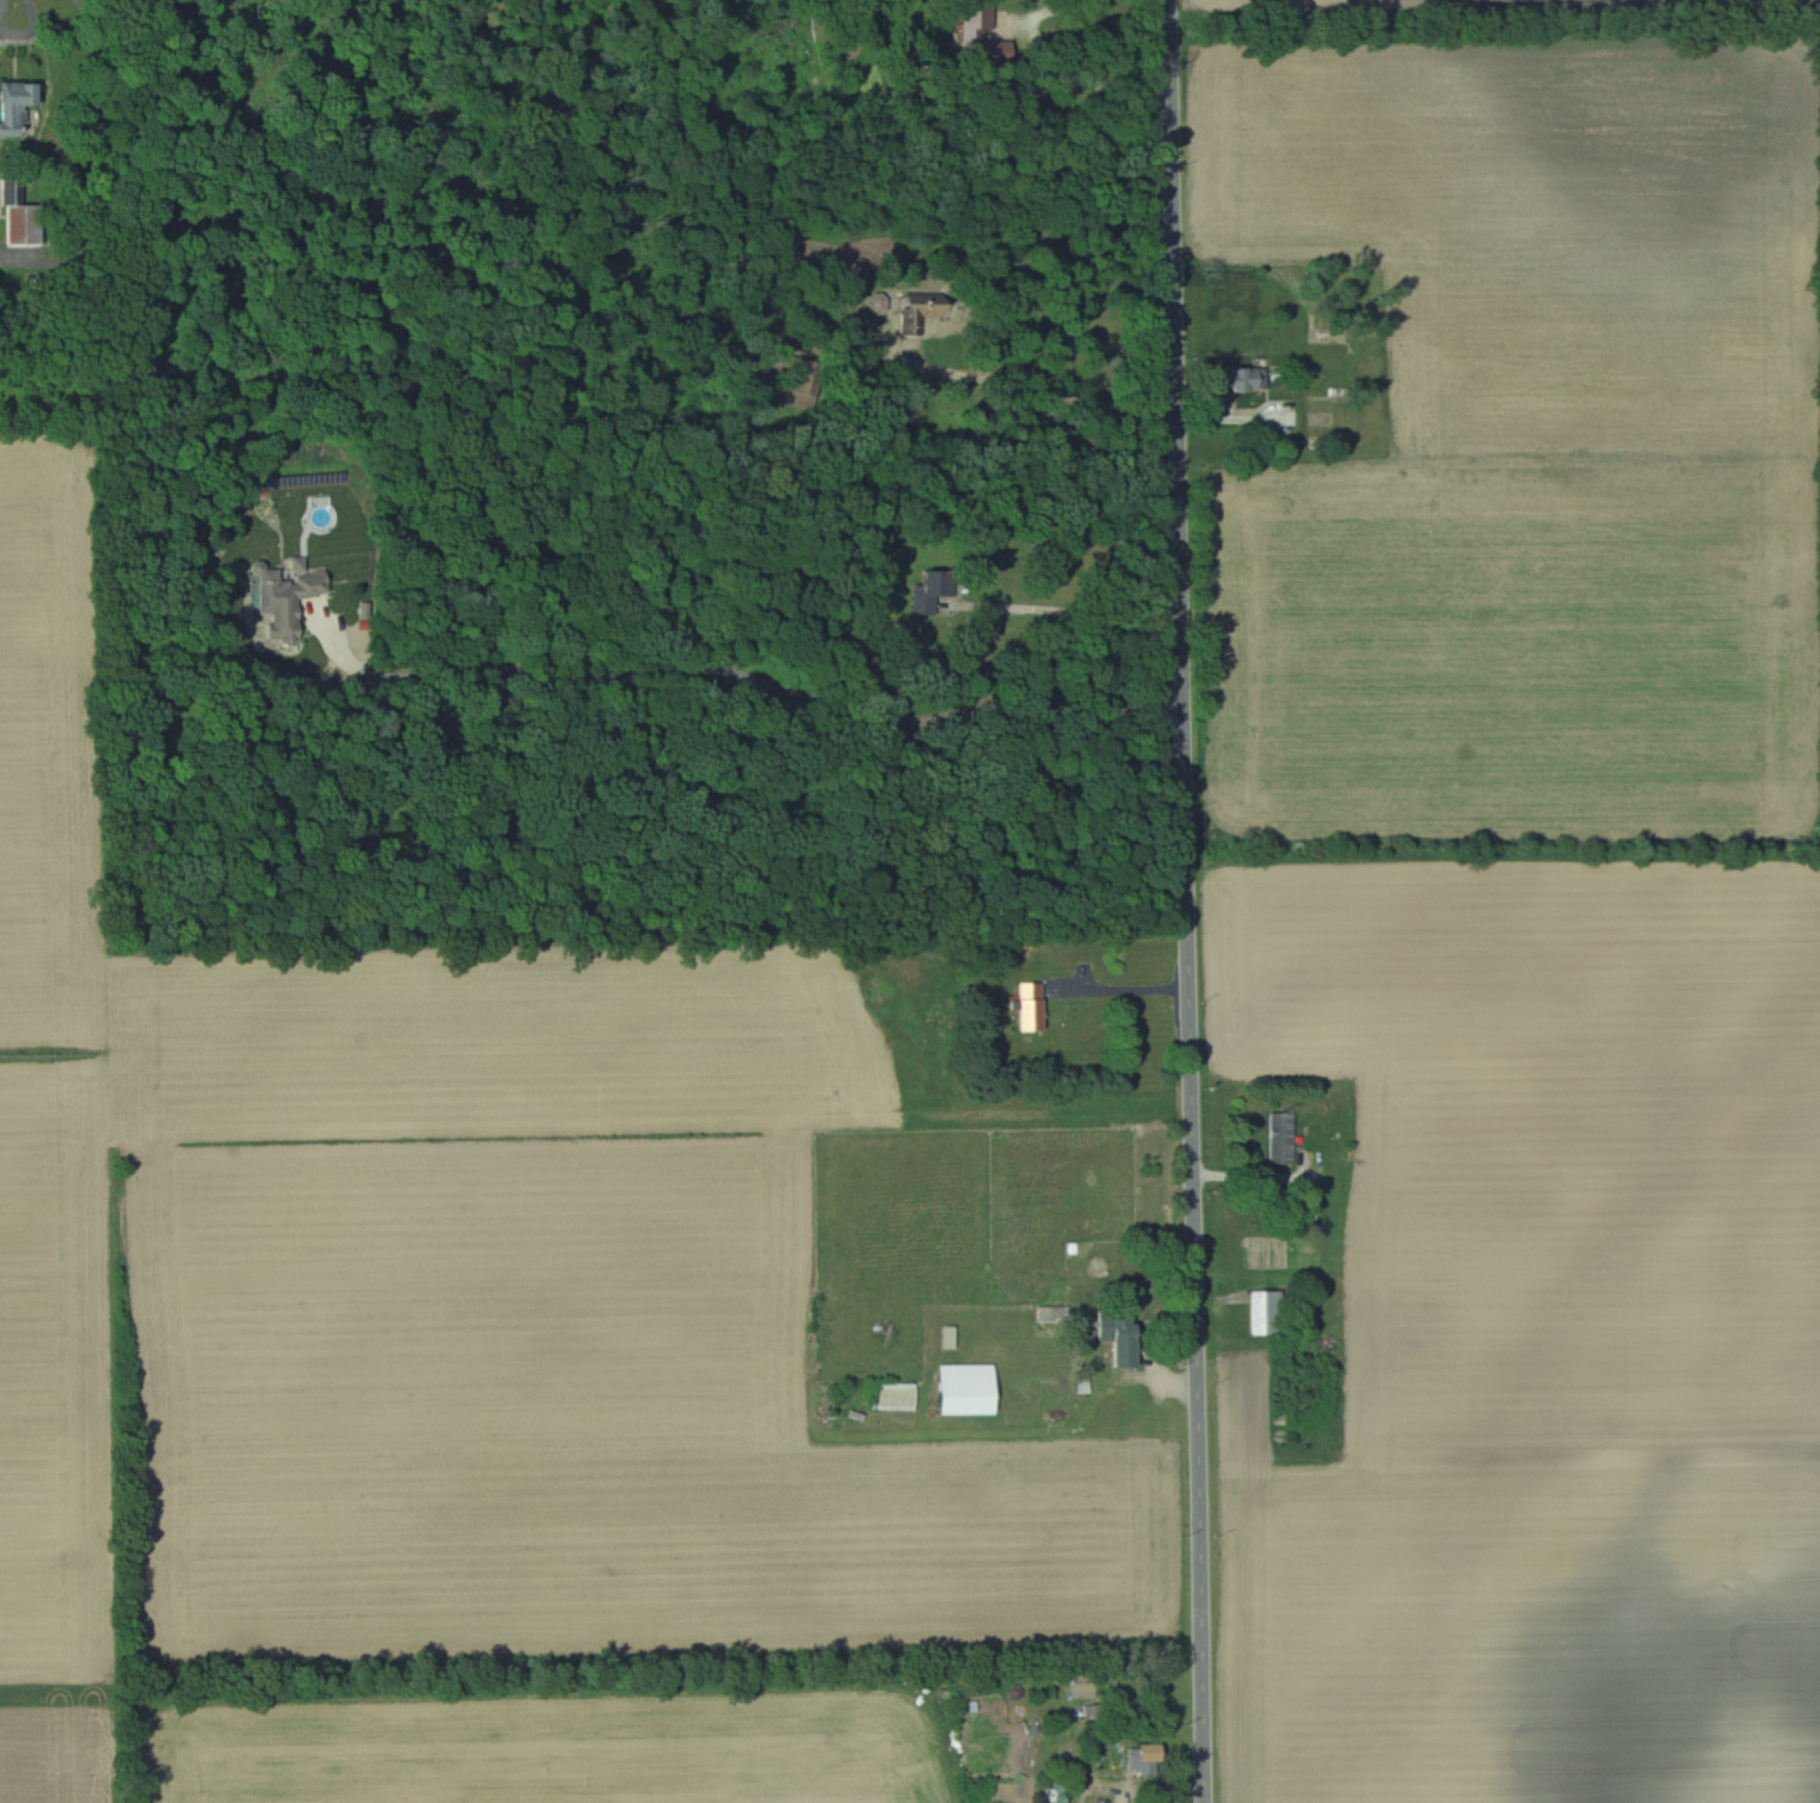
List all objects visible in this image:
road: (72, 2)
road: (1, 5)
road: (30, 31)
road: (1027, 54)
building: (17, 104)
building: (22, 218)
building: (930, 320)
building: (1254, 381)
road: (1039, 406)
building: (291, 601)
road: (1075, 623)
road: (761, 698)
road: (1188, 901)
road: (1123, 988)
building: (1036, 1007)
building: (1285, 1139)
road: (1261, 1176)
building: (1271, 1313)
building: (1126, 1334)
building: (974, 1389)
building: (900, 1397)
building: (1157, 1754)

